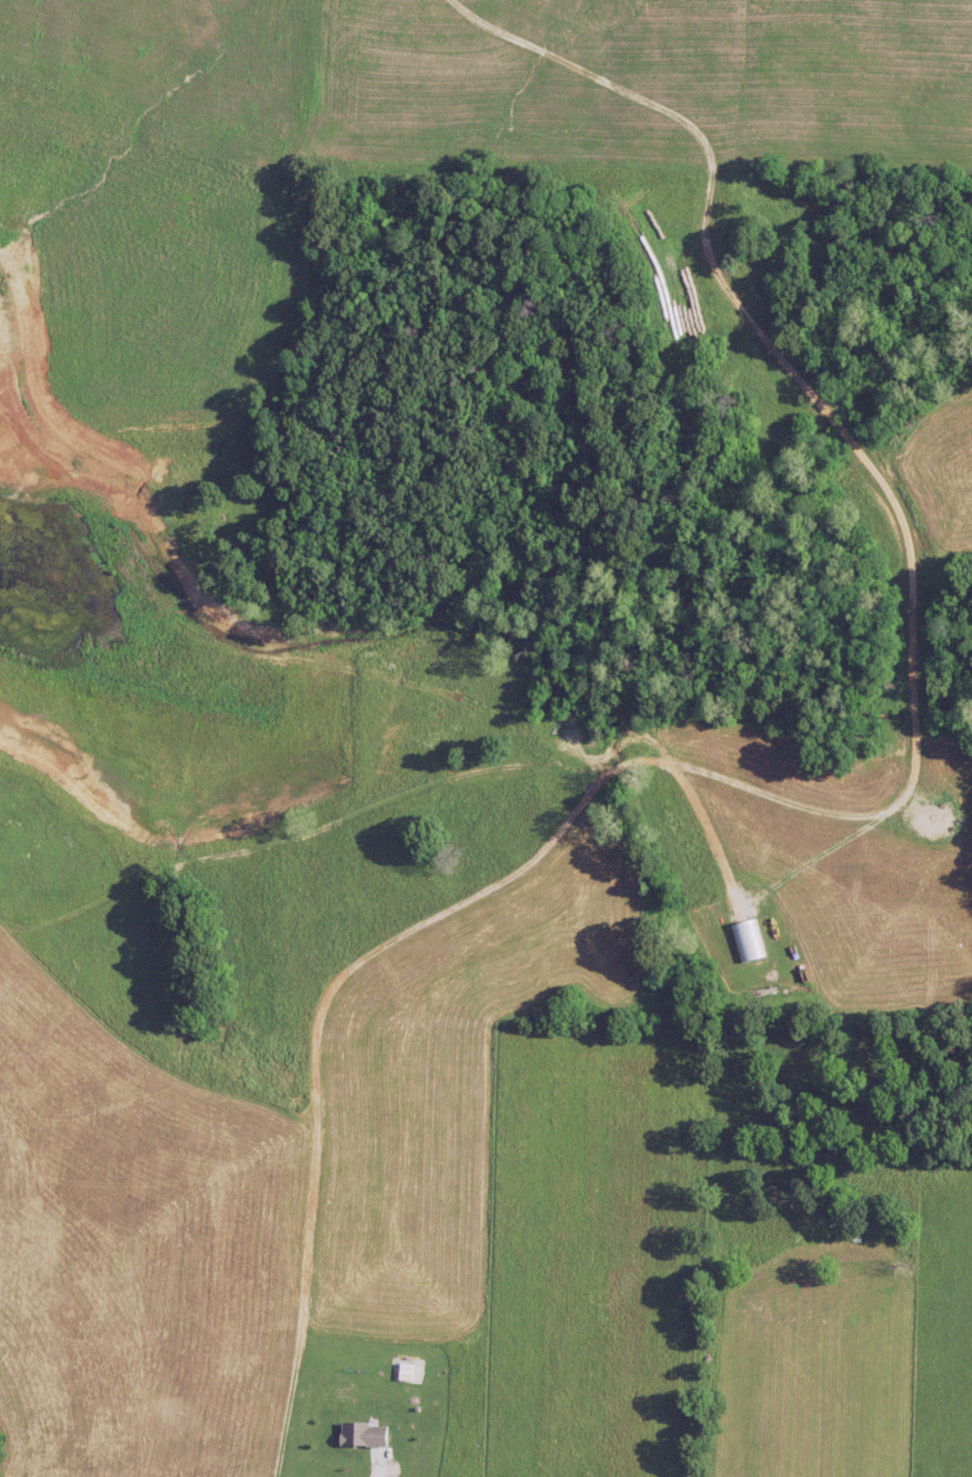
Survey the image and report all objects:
building: (369, 1434)
road: (376, 1462)

